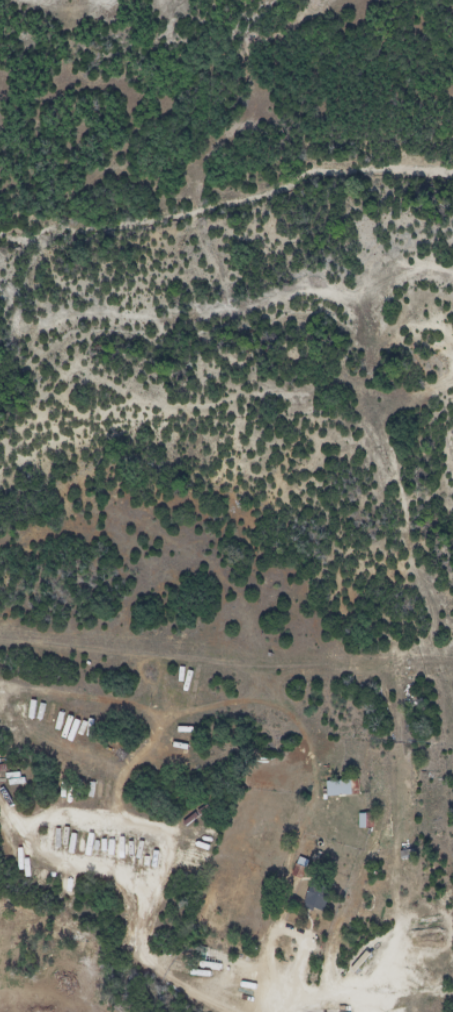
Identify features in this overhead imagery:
building: (340, 787)
building: (318, 895)

